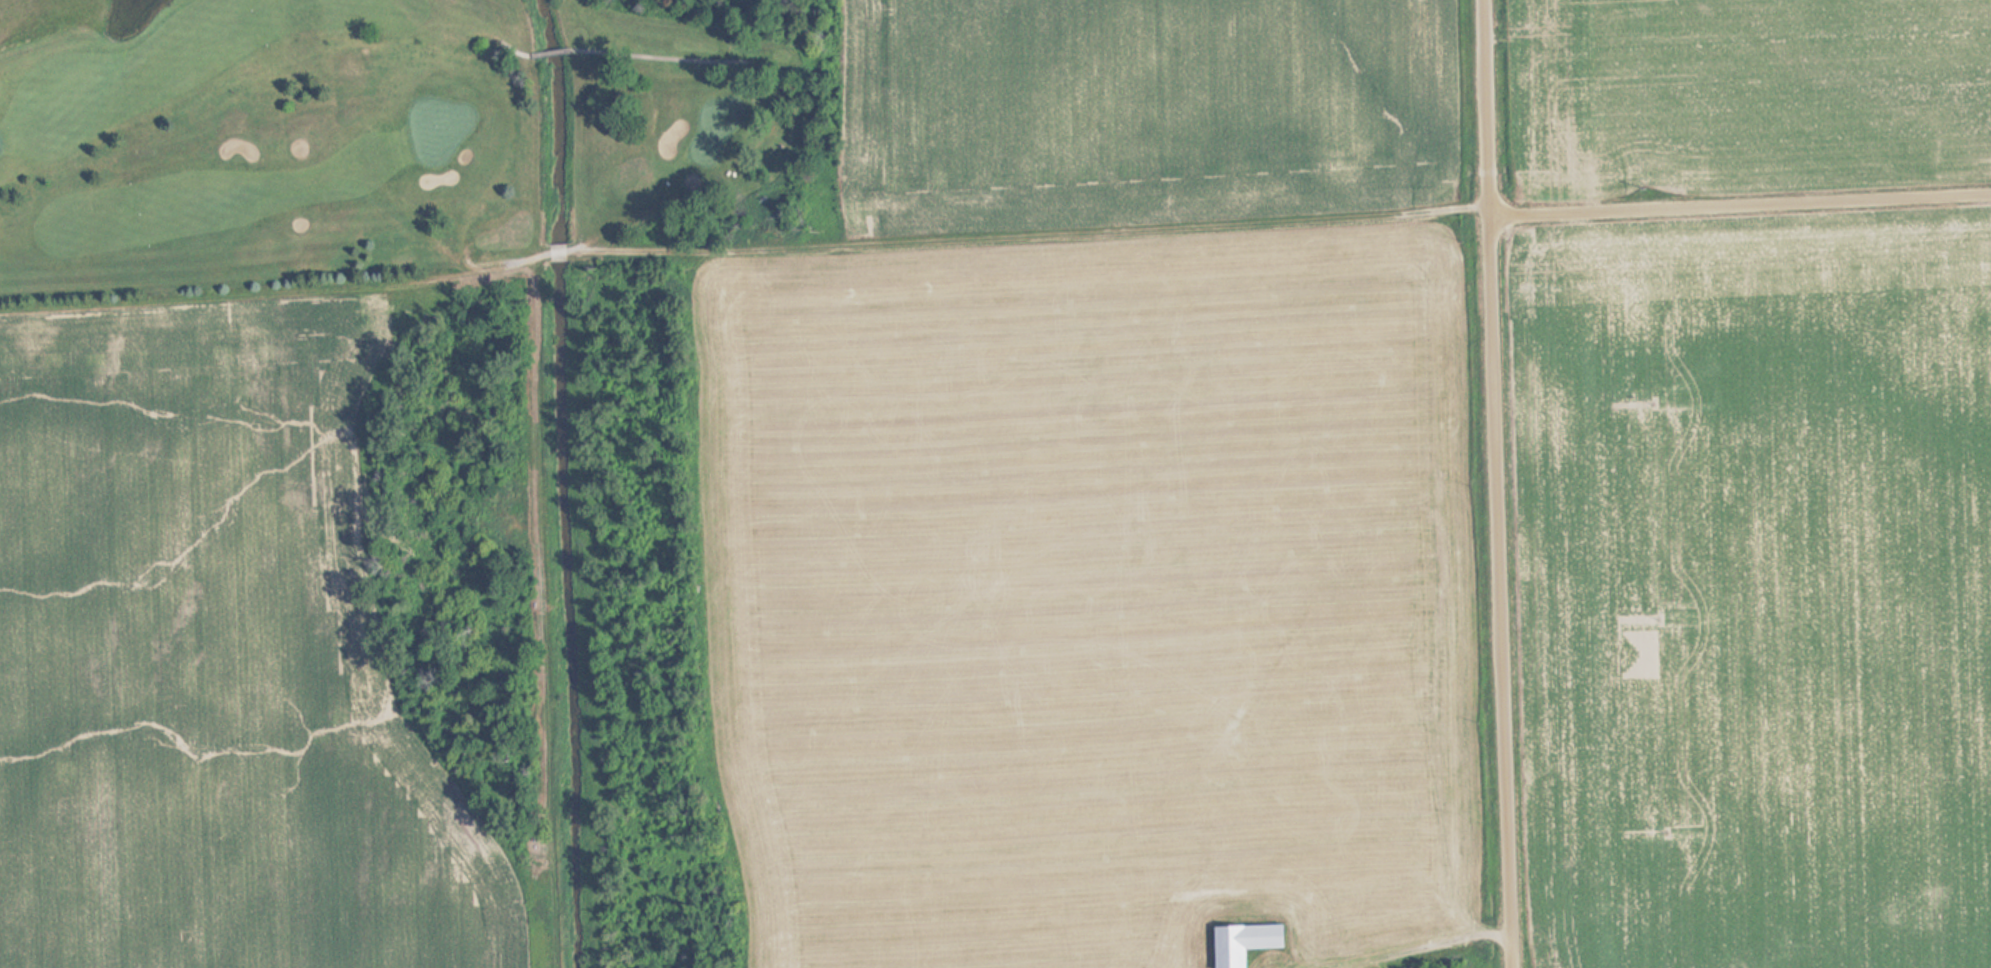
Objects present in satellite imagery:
crop: (1737, 93)
park: (377, 135)
road: (1739, 200)
road: (1494, 484)
building: (1247, 942)

